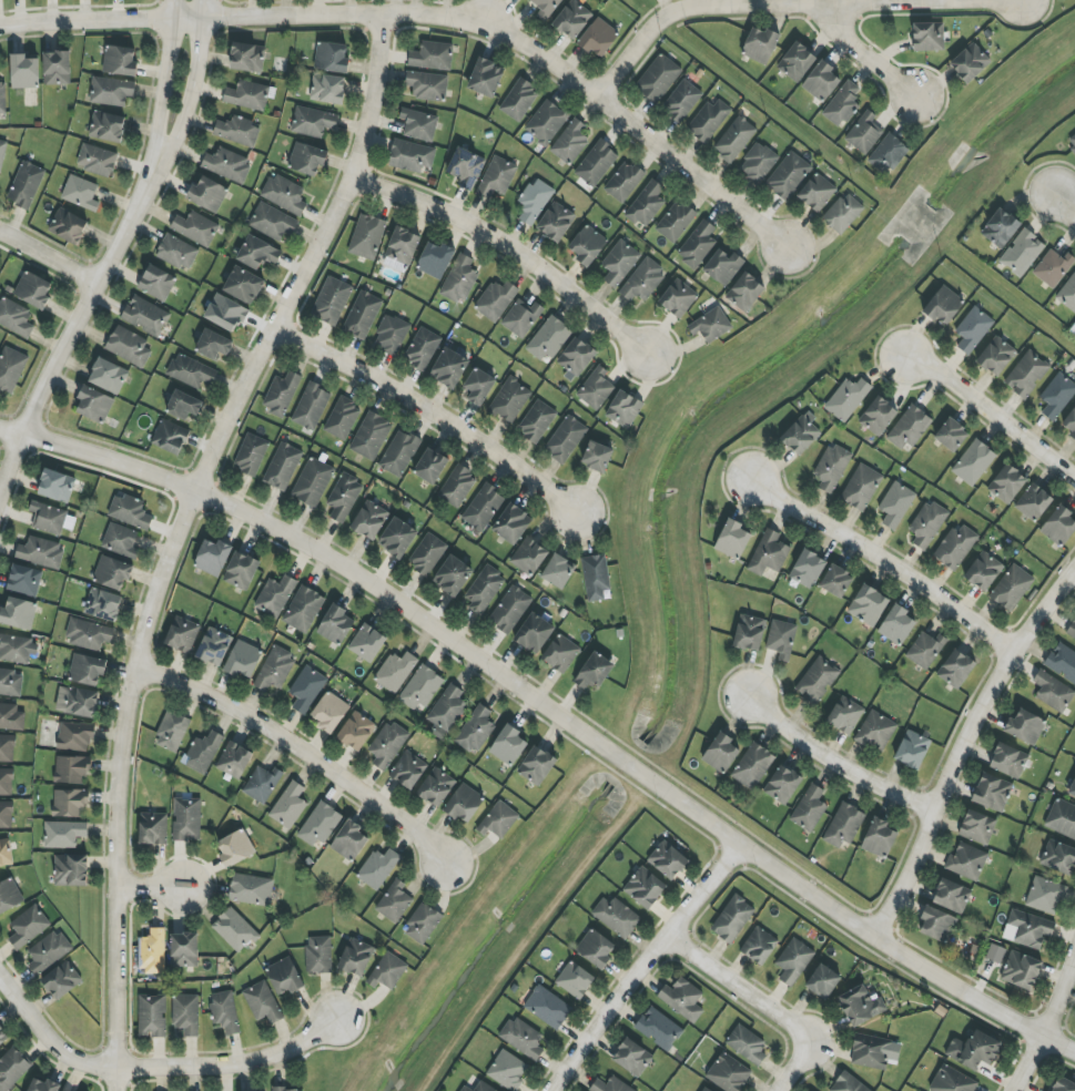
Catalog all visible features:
road: (790, 4)
building: (546, 8)
road: (429, 17)
road: (483, 19)
building: (572, 19)
building: (598, 37)
building: (927, 37)
building: (760, 44)
road: (865, 49)
building: (432, 57)
building: (247, 58)
building: (332, 58)
building: (120, 61)
building: (797, 62)
building: (970, 62)
building: (57, 68)
building: (24, 72)
building: (486, 78)
building: (658, 79)
building: (821, 81)
road: (160, 82)
building: (427, 85)
road: (187, 86)
building: (328, 89)
building: (111, 91)
building: (247, 95)
building: (519, 100)
building: (2, 101)
building: (681, 101)
building: (842, 103)
building: (708, 120)
building: (313, 122)
building: (546, 122)
building: (419, 125)
building: (108, 126)
building: (237, 131)
building: (864, 133)
building: (734, 139)
building: (1072, 141)
building: (570, 142)
building: (2, 152)
building: (888, 154)
building: (412, 156)
building: (307, 159)
building: (97, 160)
building: (758, 162)
building: (596, 163)
building: (227, 164)
building: (466, 167)
building: (788, 175)
building: (497, 177)
building: (623, 182)
building: (26, 185)
building: (817, 192)
building: (80, 193)
building: (207, 194)
building: (285, 194)
building: (535, 201)
building: (646, 204)
road: (1061, 204)
building: (843, 213)
building: (676, 221)
building: (272, 222)
building: (556, 222)
building: (68, 226)
building: (1001, 227)
building: (196, 228)
building: (367, 236)
building: (698, 244)
building: (587, 245)
road: (507, 246)
building: (402, 247)
building: (178, 253)
building: (258, 253)
building: (1022, 253)
road: (47, 256)
building: (436, 259)
building: (619, 263)
building: (723, 266)
building: (1053, 267)
building: (459, 279)
building: (642, 281)
building: (156, 283)
building: (243, 285)
building: (33, 289)
building: (746, 292)
building: (1067, 294)
building: (678, 298)
building: (332, 300)
building: (496, 300)
building: (944, 305)
building: (225, 313)
building: (363, 315)
building: (145, 316)
building: (14, 317)
building: (521, 317)
road: (73, 320)
building: (711, 325)
building: (973, 329)
building: (391, 335)
building: (549, 338)
building: (214, 345)
building: (129, 346)
building: (422, 349)
building: (996, 356)
building: (576, 357)
building: (449, 368)
building: (10, 369)
building: (191, 371)
building: (1026, 374)
building: (109, 376)
building: (479, 387)
building: (596, 388)
building: (282, 394)
building: (1057, 395)
building: (848, 398)
building: (510, 400)
building: (94, 405)
building: (184, 406)
building: (311, 406)
building: (623, 409)
road: (428, 411)
building: (879, 416)
road: (997, 418)
building: (342, 419)
building: (537, 421)
building: (1071, 424)
building: (910, 427)
building: (802, 434)
building: (952, 435)
building: (371, 436)
building: (170, 437)
building: (565, 439)
building: (399, 453)
building: (251, 455)
building: (597, 456)
building: (973, 462)
building: (283, 467)
building: (430, 467)
building: (832, 467)
building: (313, 482)
building: (1007, 483)
building: (57, 486)
building: (458, 487)
building: (861, 487)
building: (344, 497)
building: (1034, 502)
building: (896, 504)
building: (483, 507)
building: (130, 512)
building: (51, 519)
building: (369, 520)
building: (513, 523)
building: (927, 523)
building: (1059, 526)
road: (174, 534)
building: (397, 538)
building: (732, 539)
building: (121, 540)
building: (955, 547)
building: (40, 552)
building: (769, 553)
building: (427, 554)
building: (213, 557)
building: (529, 557)
road: (893, 563)
building: (808, 569)
building: (242, 571)
building: (558, 571)
building: (984, 571)
building: (112, 573)
building: (453, 575)
building: (596, 577)
building: (24, 580)
building: (836, 581)
building: (1012, 588)
building: (484, 590)
building: (275, 595)
building: (103, 604)
building: (868, 605)
building: (303, 609)
building: (510, 609)
building: (19, 613)
building: (336, 625)
building: (896, 625)
building: (1072, 631)
building: (749, 632)
building: (88, 634)
building: (182, 634)
building: (534, 634)
building: (781, 639)
building: (367, 643)
building: (214, 646)
building: (17, 649)
building: (925, 650)
building: (560, 653)
building: (243, 660)
building: (1062, 661)
building: (275, 669)
building: (956, 669)
building: (87, 670)
building: (395, 672)
building: (594, 672)
building: (817, 680)
building: (10, 683)
building: (306, 689)
building: (422, 689)
building: (1053, 691)
building: (78, 702)
building: (331, 712)
building: (447, 712)
road: (550, 712)
building: (845, 715)
building: (11, 717)
building: (1025, 726)
building: (476, 730)
building: (172, 732)
building: (356, 732)
building: (875, 732)
building: (75, 736)
building: (388, 745)
building: (508, 745)
building: (7, 748)
road: (298, 750)
building: (912, 750)
building: (203, 753)
building: (721, 753)
road: (970, 754)
building: (234, 761)
building: (1008, 761)
building: (537, 765)
building: (752, 766)
building: (72, 769)
road: (840, 769)
building: (408, 771)
building: (7, 782)
building: (262, 784)
building: (782, 784)
building: (436, 787)
building: (1073, 789)
building: (992, 792)
building: (71, 803)
building: (464, 804)
building: (290, 805)
building: (810, 808)
building: (7, 815)
building: (1062, 818)
building: (186, 819)
building: (498, 820)
building: (320, 824)
building: (844, 825)
building: (977, 827)
building: (153, 828)
building: (63, 834)
building: (880, 838)
building: (349, 840)
building: (235, 848)
building: (6, 853)
building: (1058, 857)
building: (668, 859)
building: (966, 861)
building: (378, 868)
building: (71, 870)
road: (149, 886)
building: (645, 888)
building: (251, 889)
building: (9, 896)
building: (952, 896)
building: (1045, 896)
building: (394, 901)
building: (617, 916)
building: (732, 919)
building: (423, 924)
building: (937, 924)
building: (28, 927)
building: (1030, 928)
building: (234, 930)
building: (759, 946)
building: (596, 948)
building: (185, 950)
building: (49, 951)
building: (153, 952)
building: (995, 954)
building: (320, 955)
building: (356, 958)
building: (793, 961)
road: (642, 966)
building: (1021, 970)
building: (387, 971)
building: (284, 977)
building: (575, 979)
building: (61, 981)
building: (823, 981)
building: (682, 999)
building: (262, 1002)
building: (861, 1006)
building: (548, 1007)
road: (765, 1007)
building: (224, 1011)
building: (186, 1013)
building: (152, 1016)
road: (1046, 1022)
building: (659, 1028)
building: (2, 1036)
building: (521, 1038)
building: (747, 1044)
building: (974, 1050)
building: (871, 1051)
building: (632, 1058)
building: (12, 1069)
road: (155, 1069)
building: (507, 1070)
building: (729, 1073)
building: (952, 1081)
building: (848, 1084)
building: (43, 1085)
building: (610, 1085)
building: (1064, 1085)
building: (484, 1087)
building: (465, 1089)
building: (706, 1089)
building: (287, 1090)

